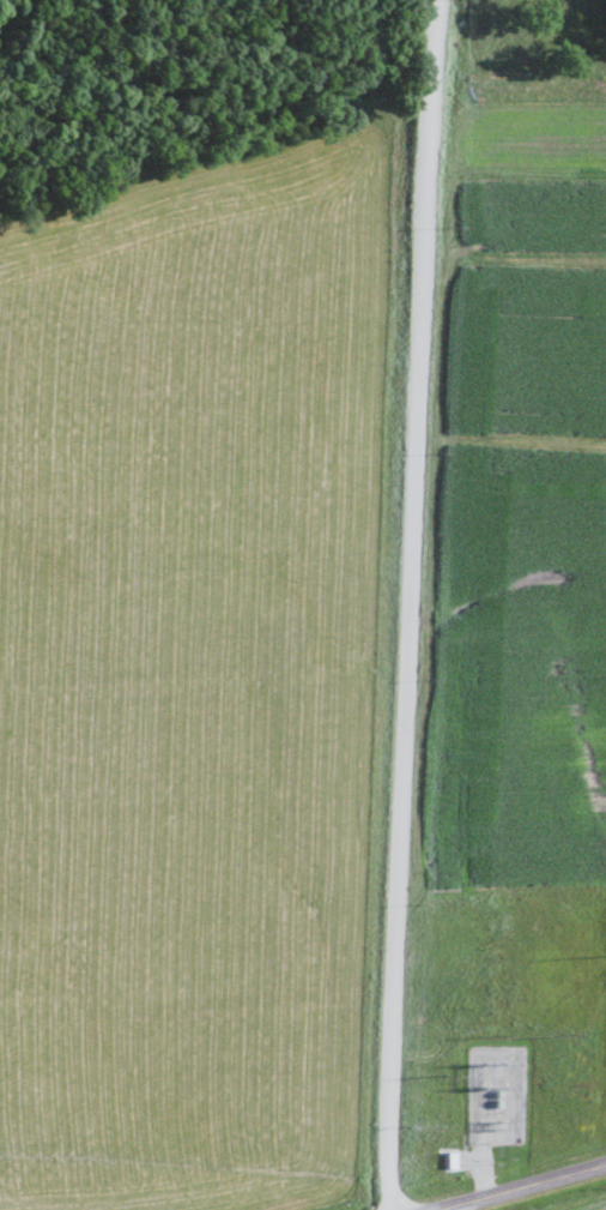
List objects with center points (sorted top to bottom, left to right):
road: (411, 604)
building: (510, 1055)
power substation: (495, 1095)
road: (520, 1190)

